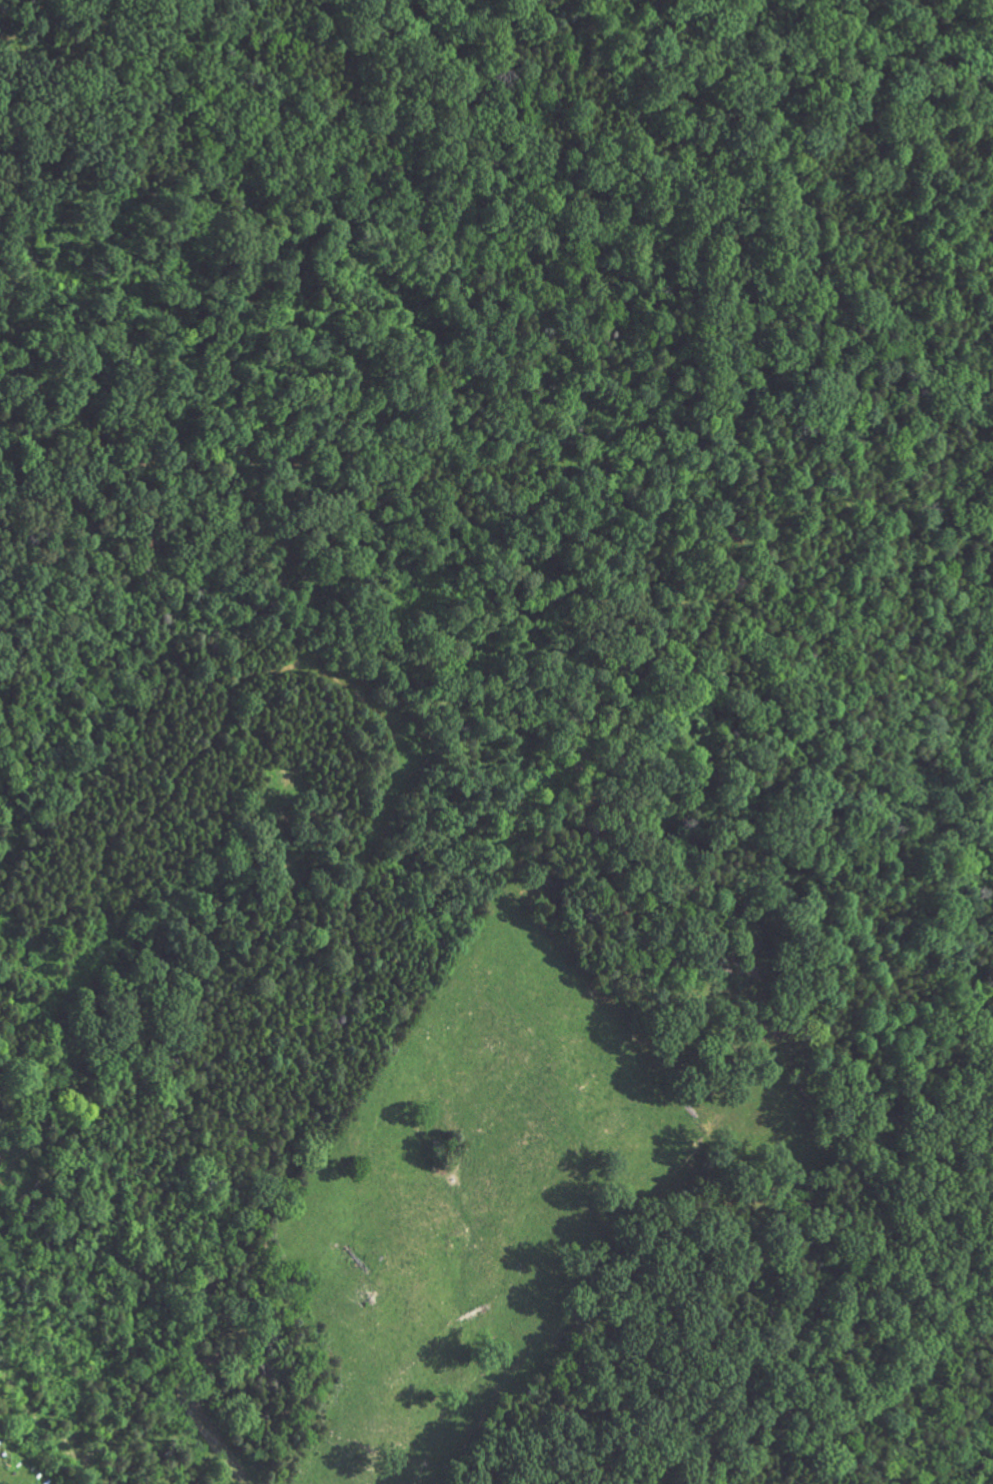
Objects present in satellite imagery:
building: (2, 1378)

